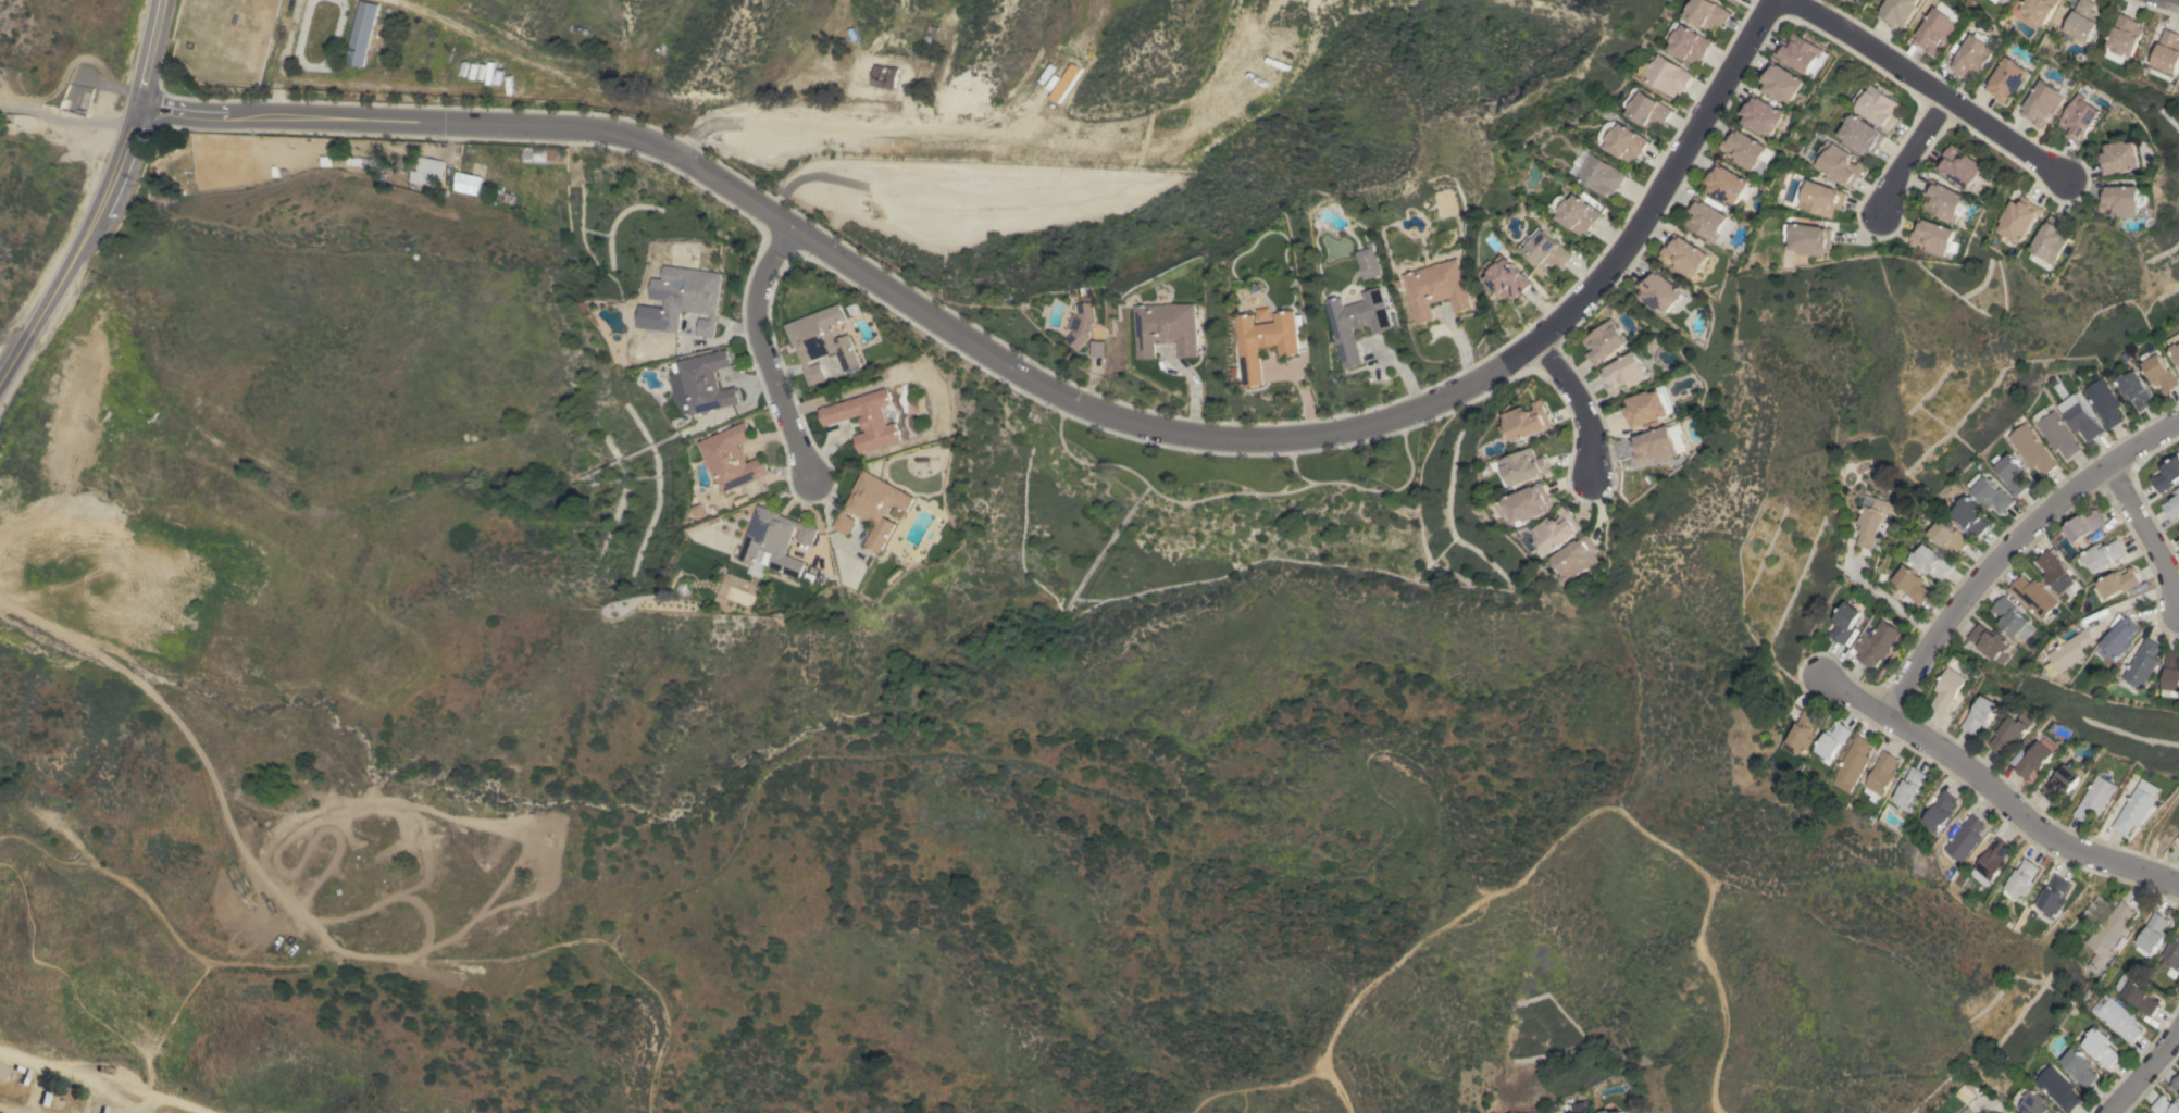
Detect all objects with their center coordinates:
building: (1848, 0)
building: (1851, 0)
building: (2003, 0)
building: (1732, 1)
road: (2170, 3)
building: (2033, 11)
building: (1898, 12)
building: (1705, 13)
building: (2081, 22)
building: (1938, 27)
building: (362, 34)
building: (2122, 38)
building: (1685, 42)
building: (403, 45)
building: (1802, 53)
building: (1973, 54)
building: (2166, 55)
building: (1664, 75)
building: (884, 76)
building: (2007, 79)
building: (1782, 82)
building: (1063, 83)
road: (1930, 90)
building: (2044, 102)
building: (1876, 105)
road: (187, 107)
road: (18, 108)
building: (1644, 108)
building: (1761, 114)
road: (236, 116)
building: (2080, 117)
road: (84, 122)
road: (173, 123)
building: (1860, 134)
building: (1620, 139)
building: (1748, 151)
building: (543, 155)
road: (1909, 155)
building: (2121, 157)
building: (364, 161)
building: (1836, 163)
building: (1964, 170)
building: (425, 172)
building: (1596, 173)
building: (466, 184)
building: (1726, 184)
building: (1817, 197)
building: (1946, 200)
building: (2126, 200)
road: (102, 201)
building: (1574, 212)
building: (2020, 218)
building: (1709, 220)
building: (1937, 237)
building: (1809, 238)
building: (2051, 241)
building: (1545, 248)
building: (1684, 255)
building: (1368, 263)
building: (1506, 277)
building: (1436, 288)
building: (1660, 290)
building: (692, 298)
building: (1263, 314)
building: (1358, 322)
building: (1085, 323)
building: (1170, 327)
building: (820, 341)
building: (1266, 341)
building: (1604, 342)
building: (2174, 347)
building: (1098, 349)
road: (764, 352)
building: (1623, 373)
building: (2159, 373)
building: (700, 383)
building: (2133, 389)
building: (2102, 400)
road: (1571, 407)
building: (1646, 407)
building: (864, 418)
road: (1121, 421)
building: (1527, 421)
building: (2080, 421)
building: (2054, 432)
building: (1656, 443)
building: (2030, 449)
building: (731, 458)
building: (1520, 466)
building: (2012, 473)
building: (2167, 475)
building: (1991, 495)
building: (1526, 503)
building: (2172, 505)
building: (873, 508)
building: (1969, 516)
building: (1872, 520)
building: (2083, 525)
building: (1553, 532)
road: (2143, 533)
building: (1950, 536)
building: (773, 543)
road: (2006, 543)
building: (2103, 554)
building: (1571, 559)
building: (1929, 562)
building: (2055, 572)
building: (1912, 584)
building: (2117, 584)
building: (686, 585)
building: (2034, 597)
road: (1888, 603)
building: (2013, 618)
building: (1842, 623)
building: (2120, 639)
building: (1876, 642)
building: (1992, 642)
building: (2072, 653)
building: (2145, 663)
building: (2172, 673)
building: (1946, 689)
building: (1979, 715)
building: (2009, 733)
building: (1798, 734)
building: (1831, 739)
building: (2035, 759)
building: (1851, 763)
building: (1881, 773)
building: (2062, 781)
building: (1910, 788)
road: (1996, 790)
building: (2095, 798)
building: (2136, 806)
building: (1940, 811)
building: (1965, 838)
building: (1990, 861)
building: (2022, 879)
building: (2054, 896)
building: (2154, 933)
building: (2108, 935)
building: (2171, 955)
building: (2141, 997)
building: (2116, 1017)
building: (2100, 1048)
power tower: (1965, 1062)
building: (2078, 1067)
building: (2, 1070)
road: (2146, 1075)
road: (108, 1079)
building: (2176, 1084)
building: (2056, 1088)
road: (117, 1100)
building: (2030, 1101)
road: (147, 1102)
building: (2166, 1105)
building: (1603, 1111)
building: (1966, 1111)
building: (1573, 1112)
building: (1585, 1112)
building: (1616, 1112)

